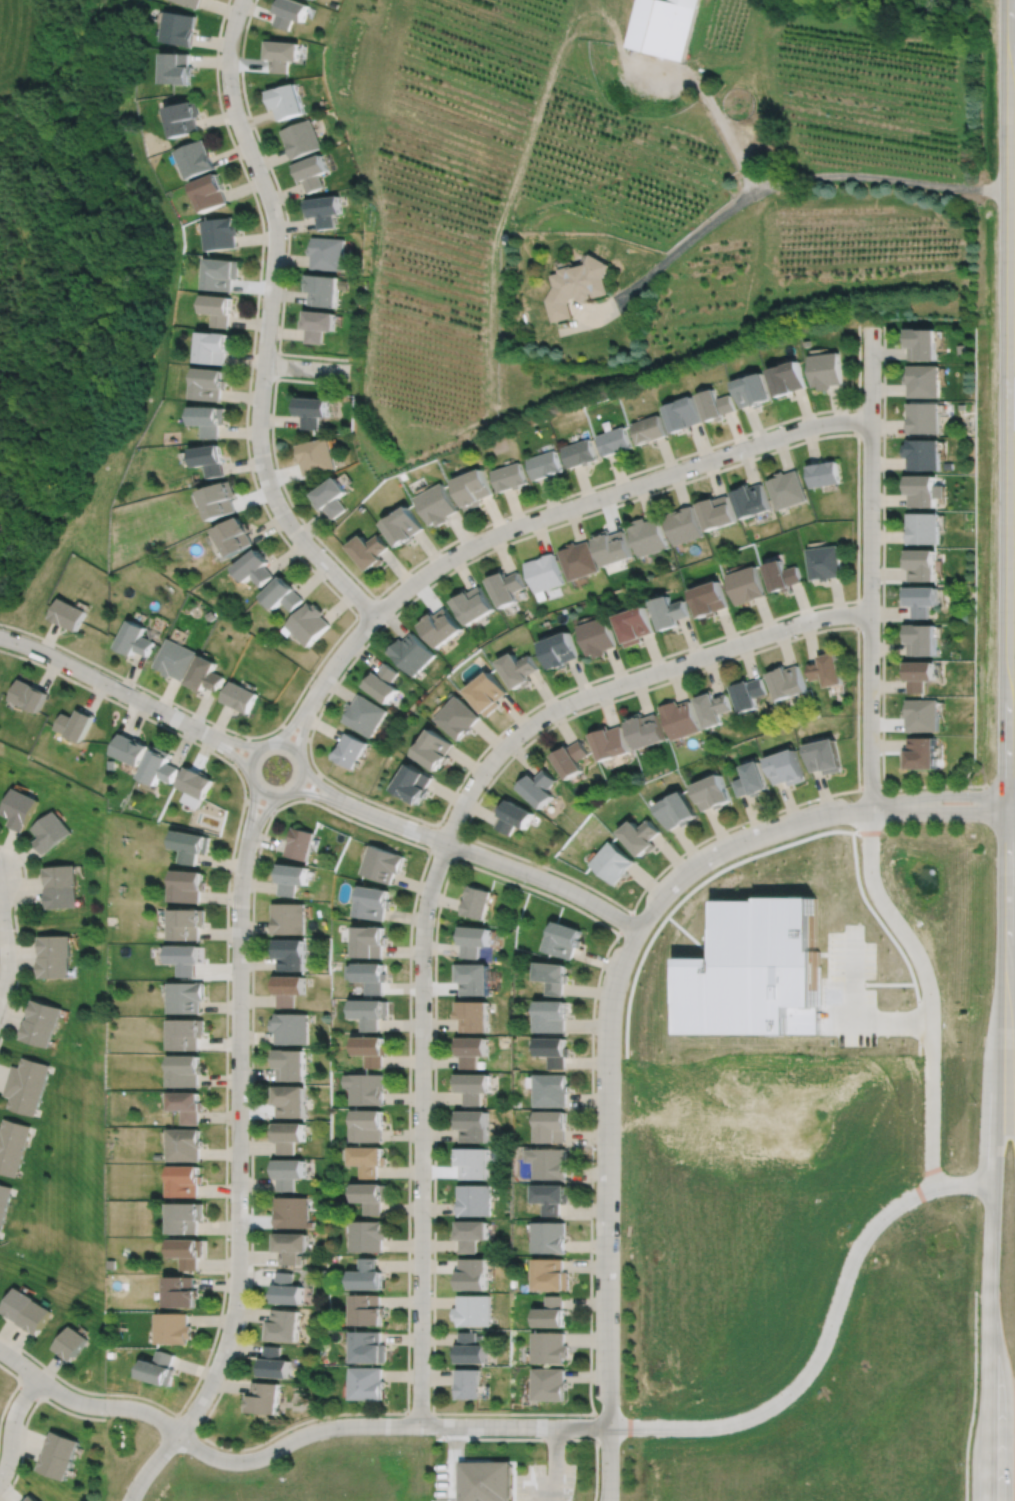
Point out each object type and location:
building: (192, 2)
building: (290, 11)
building: (664, 26)
building: (178, 27)
building: (282, 53)
building: (177, 67)
road: (709, 99)
building: (287, 100)
building: (184, 117)
building: (302, 138)
building: (196, 159)
building: (312, 171)
road: (765, 189)
building: (210, 191)
road: (283, 206)
building: (324, 210)
building: (221, 233)
building: (327, 253)
building: (221, 274)
building: (577, 286)
building: (322, 289)
building: (218, 310)
road: (267, 323)
building: (318, 325)
building: (922, 345)
building: (214, 348)
road: (276, 365)
road: (306, 368)
building: (826, 371)
building: (787, 379)
building: (923, 382)
building: (210, 384)
building: (754, 391)
building: (717, 404)
road: (1009, 407)
building: (313, 409)
building: (683, 413)
building: (210, 418)
building: (923, 418)
road: (858, 421)
building: (650, 427)
building: (615, 440)
road: (781, 448)
building: (580, 451)
building: (922, 454)
building: (317, 455)
building: (211, 459)
building: (546, 463)
building: (823, 472)
building: (510, 475)
building: (472, 486)
building: (787, 487)
building: (921, 488)
road: (612, 492)
building: (333, 495)
building: (752, 498)
building: (220, 499)
building: (437, 503)
building: (718, 510)
road: (491, 522)
building: (403, 524)
building: (683, 524)
building: (923, 526)
building: (236, 535)
road: (281, 535)
building: (647, 535)
building: (612, 545)
building: (369, 548)
building: (579, 559)
building: (823, 561)
building: (920, 563)
building: (257, 567)
road: (869, 567)
building: (544, 572)
building: (783, 574)
building: (748, 584)
building: (506, 586)
building: (285, 594)
building: (710, 597)
building: (920, 598)
building: (472, 603)
road: (882, 605)
road: (366, 607)
building: (671, 610)
building: (69, 613)
road: (857, 613)
building: (311, 623)
building: (635, 624)
building: (439, 625)
building: (598, 635)
building: (921, 638)
building: (136, 639)
building: (561, 649)
road: (753, 651)
building: (410, 653)
building: (176, 659)
road: (337, 659)
building: (520, 668)
building: (826, 668)
building: (918, 673)
building: (207, 675)
road: (626, 681)
building: (786, 681)
building: (382, 682)
road: (106, 683)
building: (488, 692)
building: (748, 693)
building: (29, 695)
building: (241, 697)
building: (713, 707)
building: (921, 713)
building: (364, 715)
building: (458, 717)
building: (679, 718)
building: (76, 725)
road: (289, 727)
building: (645, 729)
road: (294, 732)
road: (302, 732)
road: (236, 742)
building: (610, 742)
building: (130, 749)
building: (434, 749)
building: (350, 750)
road: (240, 751)
road: (230, 753)
building: (920, 753)
building: (823, 755)
building: (570, 758)
building: (112, 764)
building: (160, 767)
building: (785, 767)
building: (751, 779)
building: (196, 783)
building: (414, 783)
road: (312, 786)
road: (325, 787)
building: (539, 787)
road: (871, 787)
street lamp: (973, 787)
building: (714, 792)
road: (942, 793)
road: (277, 796)
road: (321, 797)
road: (258, 806)
building: (20, 809)
building: (678, 810)
road: (943, 811)
road: (251, 813)
building: (513, 817)
road: (261, 819)
building: (50, 832)
road: (434, 835)
road: (462, 835)
building: (642, 836)
building: (302, 844)
road: (740, 844)
building: (192, 846)
road: (428, 848)
road: (442, 854)
road: (498, 861)
building: (614, 862)
building: (384, 864)
road: (446, 877)
building: (292, 880)
road: (1011, 883)
building: (61, 887)
building: (189, 887)
road: (689, 889)
building: (476, 902)
building: (375, 903)
building: (289, 919)
road: (624, 922)
building: (189, 925)
road: (15, 933)
road: (889, 940)
building: (473, 941)
building: (565, 941)
building: (372, 943)
road: (6, 950)
building: (292, 956)
building: (56, 957)
building: (187, 960)
building: (370, 976)
building: (758, 976)
building: (554, 977)
building: (472, 979)
road: (884, 987)
road: (929, 990)
building: (289, 991)
parking lot: (855, 993)
building: (187, 999)
building: (369, 1010)
building: (553, 1013)
building: (473, 1014)
road: (855, 1019)
building: (43, 1024)
building: (290, 1028)
building: (188, 1035)
building: (371, 1049)
building: (471, 1049)
building: (555, 1049)
road: (226, 1062)
building: (289, 1063)
building: (187, 1071)
building: (27, 1085)
building: (472, 1085)
building: (366, 1088)
building: (552, 1088)
building: (288, 1099)
building: (189, 1104)
building: (368, 1124)
building: (472, 1124)
building: (552, 1125)
road: (421, 1132)
building: (286, 1134)
building: (186, 1143)
building: (12, 1144)
building: (368, 1158)
road: (994, 1158)
building: (471, 1161)
building: (549, 1162)
building: (286, 1171)
building: (187, 1179)
road: (238, 1187)
building: (371, 1195)
building: (552, 1196)
building: (4, 1198)
building: (474, 1199)
road: (609, 1201)
building: (290, 1211)
building: (188, 1216)
building: (470, 1233)
building: (367, 1235)
building: (551, 1237)
building: (288, 1246)
building: (189, 1251)
building: (472, 1273)
building: (367, 1274)
building: (553, 1274)
building: (286, 1289)
building: (183, 1291)
building: (27, 1309)
building: (367, 1309)
building: (472, 1310)
building: (553, 1312)
building: (281, 1325)
building: (175, 1328)
road: (826, 1338)
building: (71, 1343)
building: (368, 1347)
building: (551, 1347)
building: (469, 1348)
building: (273, 1363)
building: (161, 1368)
building: (366, 1383)
building: (468, 1383)
building: (550, 1384)
road: (30, 1390)
road: (13, 1392)
building: (263, 1397)
road: (419, 1413)
road: (28, 1416)
road: (187, 1422)
road: (12, 1426)
road: (595, 1429)
road: (545, 1439)
road: (288, 1442)
building: (59, 1455)
road: (458, 1460)
road: (555, 1463)
building: (488, 1481)
parking lot: (546, 1483)
road: (607, 1489)
road: (610, 1489)
building: (32, 1499)

